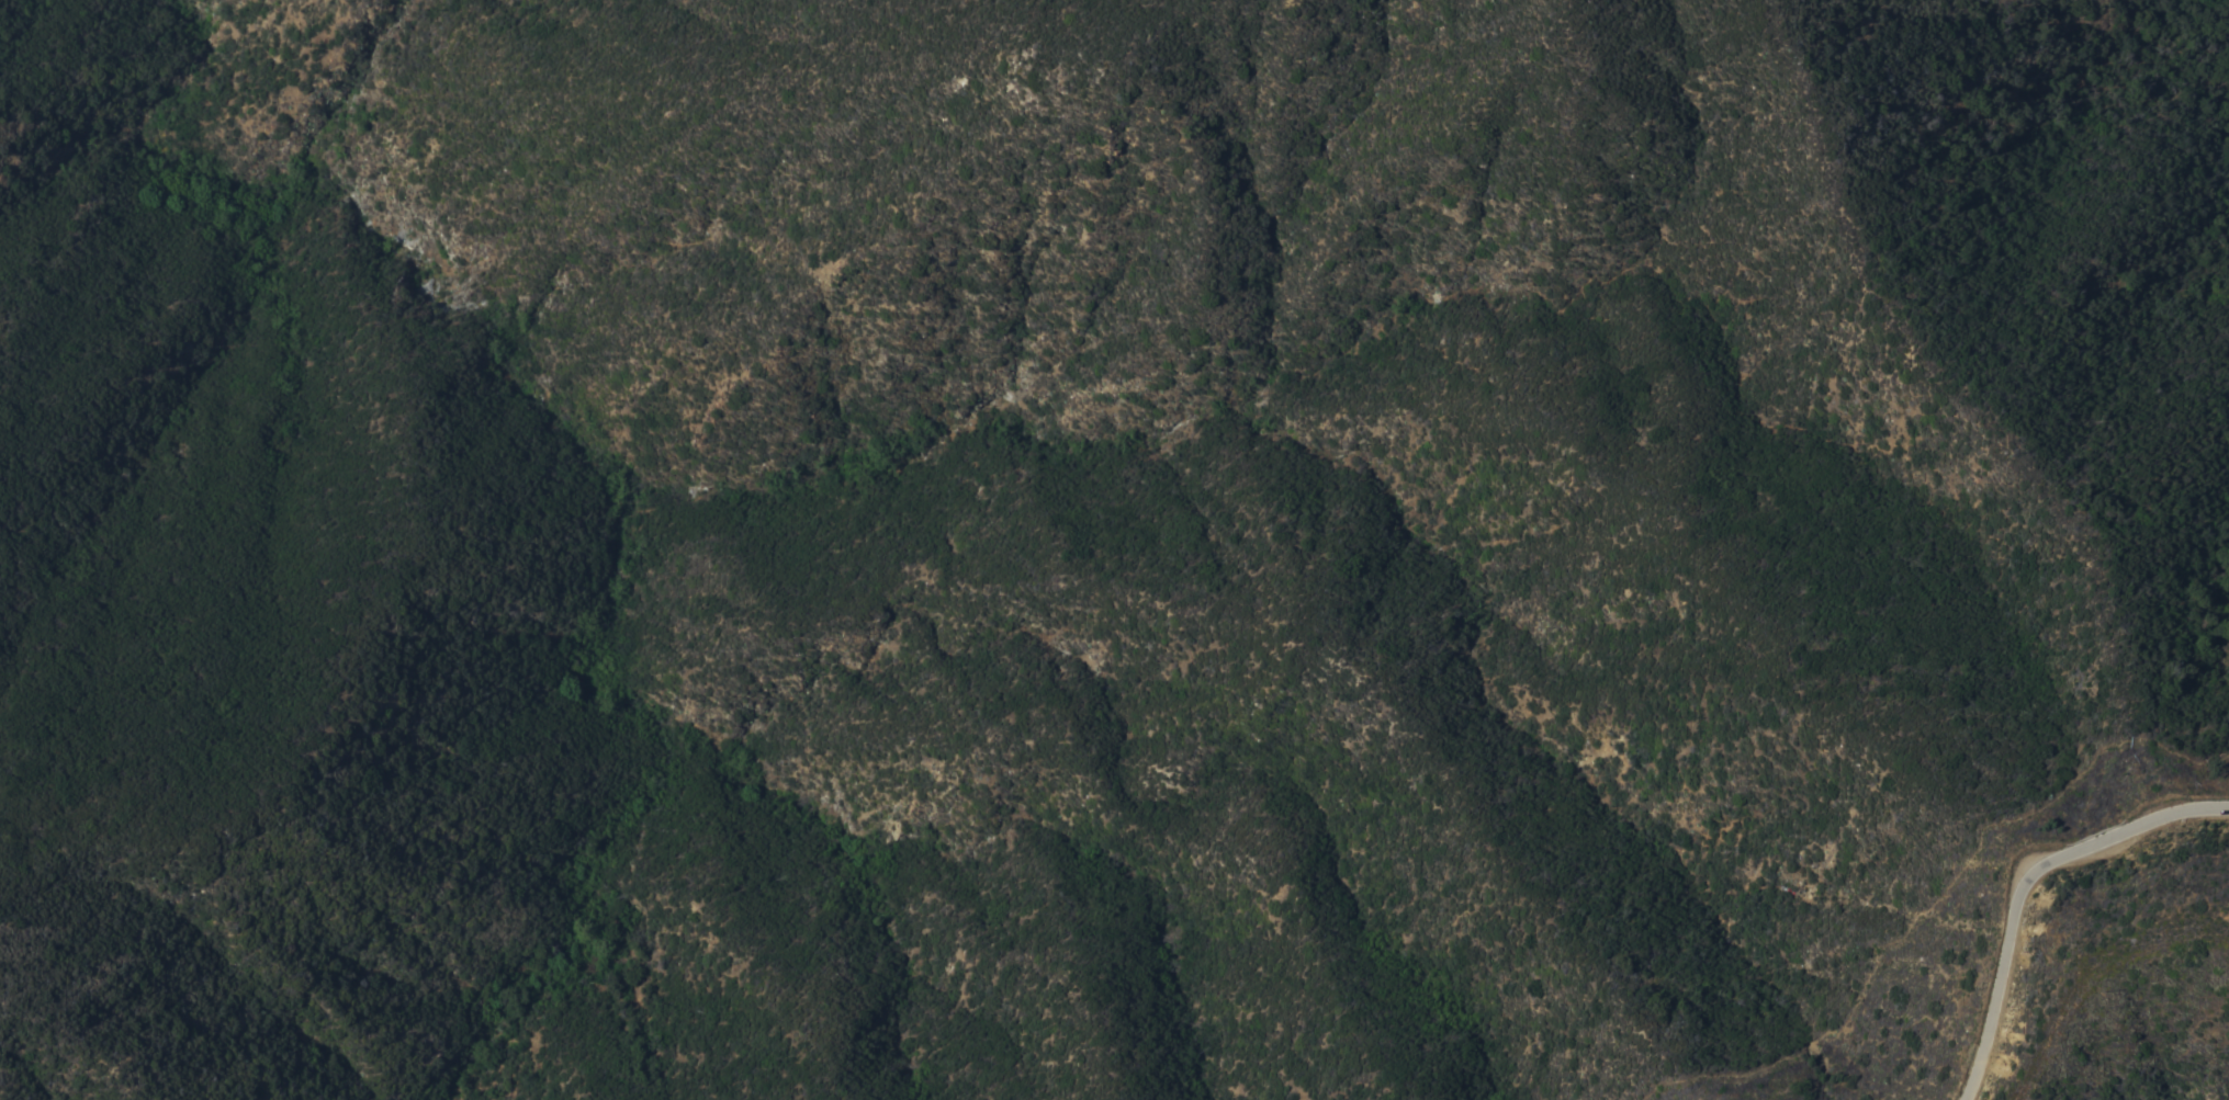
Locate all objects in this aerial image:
road: (2028, 887)

